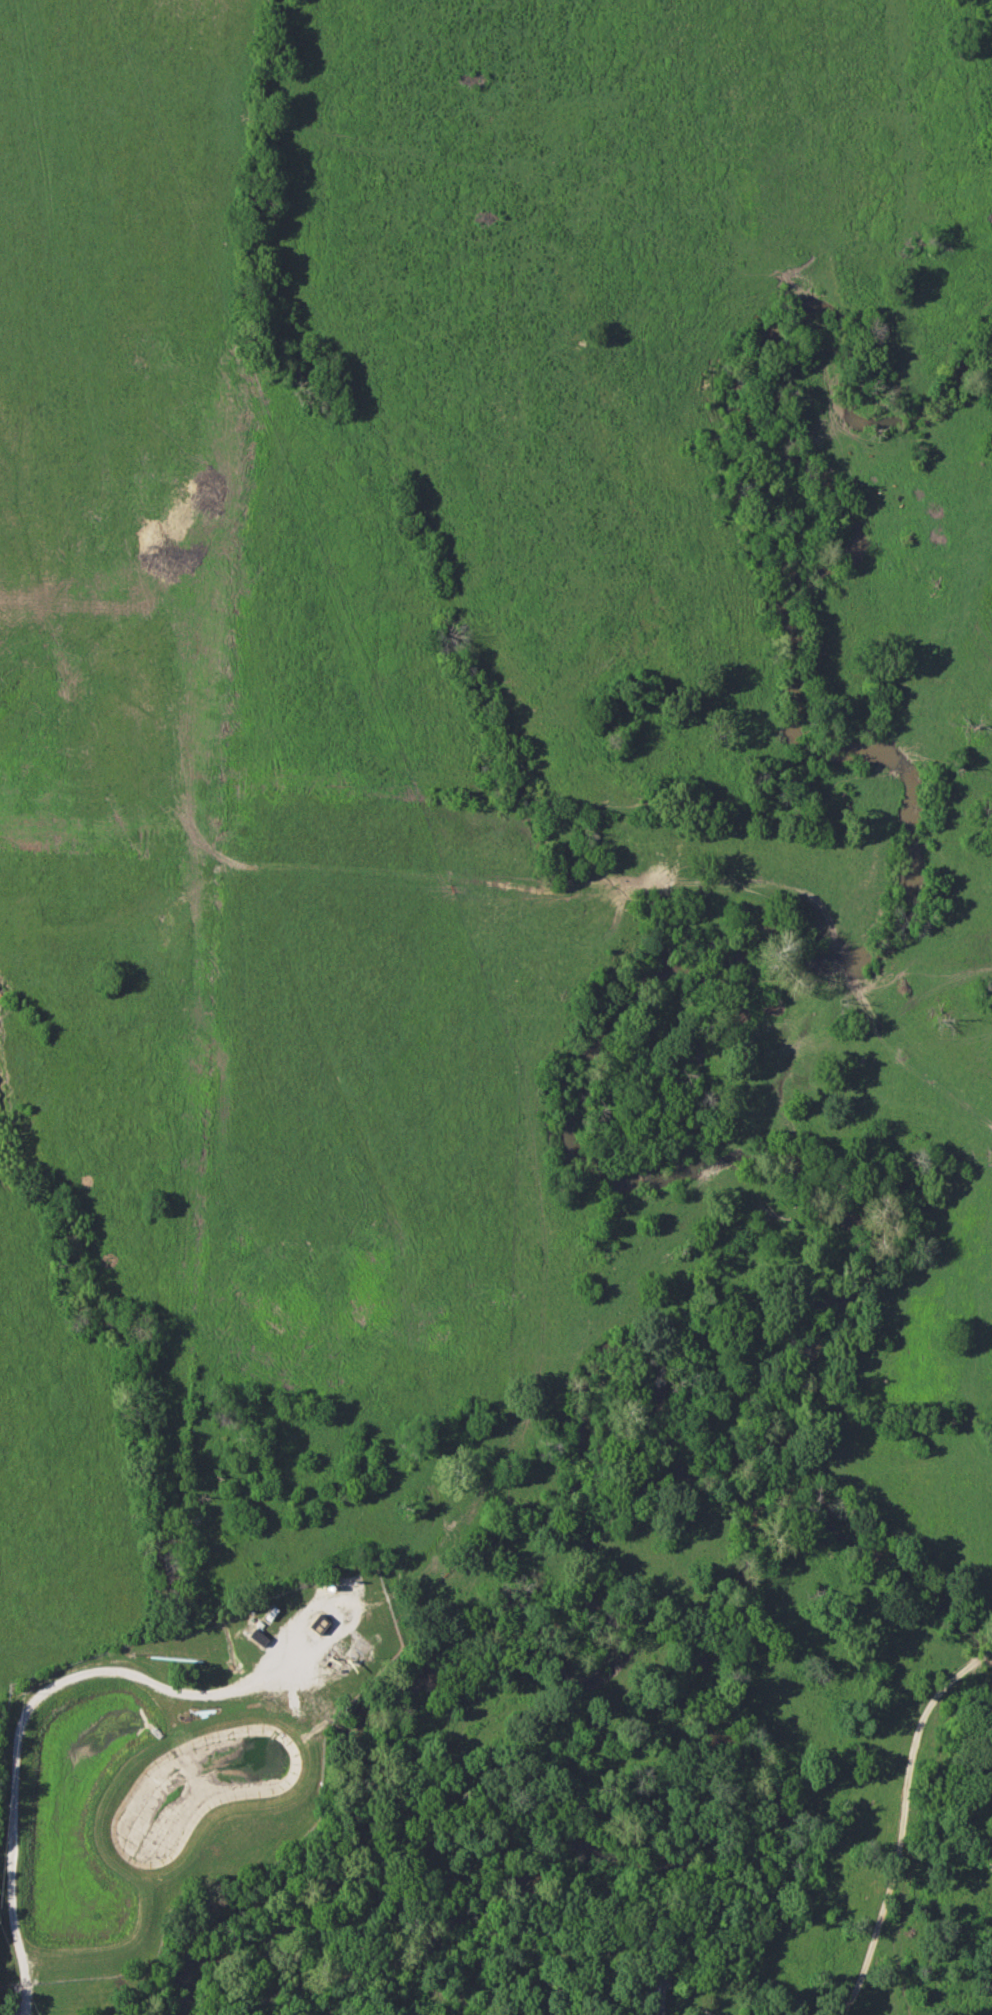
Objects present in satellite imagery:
road: (221, 577)
road: (43, 1691)
road: (900, 1819)
building: (655, 1993)
road: (696, 2010)

